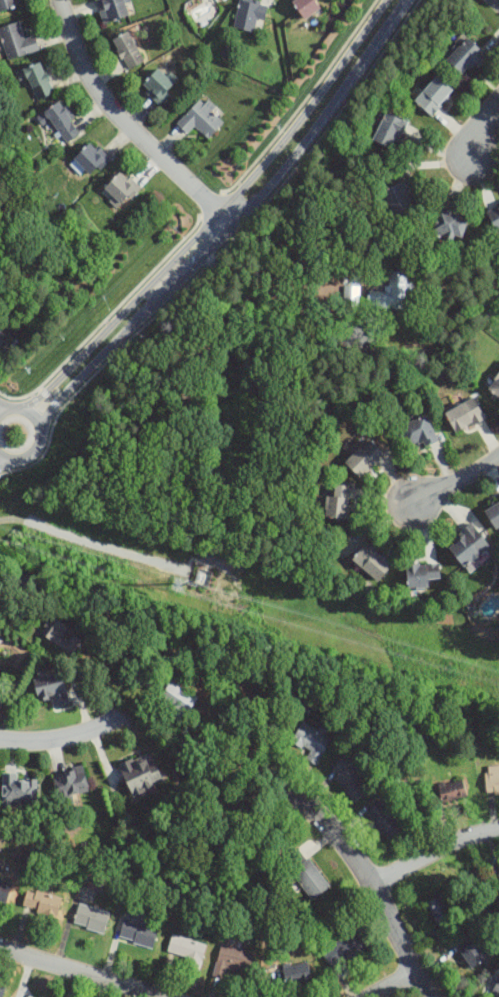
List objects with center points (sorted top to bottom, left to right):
building: (9, 4)
building: (306, 7)
building: (112, 9)
building: (249, 14)
building: (17, 41)
building: (128, 50)
building: (466, 57)
building: (38, 80)
building: (158, 85)
building: (433, 96)
road: (323, 115)
building: (201, 118)
road: (484, 120)
building: (62, 122)
road: (128, 124)
building: (388, 131)
building: (91, 159)
building: (121, 189)
building: (400, 200)
building: (498, 210)
road: (217, 215)
building: (496, 224)
building: (450, 225)
road: (203, 257)
building: (392, 292)
road: (270, 316)
building: (2, 335)
road: (100, 357)
building: (495, 386)
road: (49, 398)
road: (3, 407)
road: (13, 408)
road: (3, 410)
building: (464, 416)
road: (35, 418)
building: (416, 433)
road: (30, 453)
road: (4, 456)
building: (364, 459)
road: (4, 461)
road: (458, 480)
building: (337, 504)
building: (493, 514)
building: (468, 547)
building: (371, 562)
building: (422, 575)
road: (28, 576)
power tower: (180, 585)
building: (60, 632)
building: (50, 690)
building: (178, 700)
building: (1, 702)
road: (62, 738)
building: (312, 743)
building: (140, 774)
building: (352, 780)
building: (492, 782)
building: (69, 785)
building: (18, 791)
building: (452, 791)
building: (385, 820)
road: (434, 850)
building: (306, 873)
road: (372, 881)
building: (4, 891)
building: (41, 903)
building: (441, 909)
building: (91, 918)
building: (138, 932)
building: (343, 949)
building: (188, 950)
building: (472, 954)
building: (232, 960)
road: (81, 972)
building: (297, 976)
road: (390, 982)
building: (496, 989)
building: (1, 992)
building: (32, 996)

